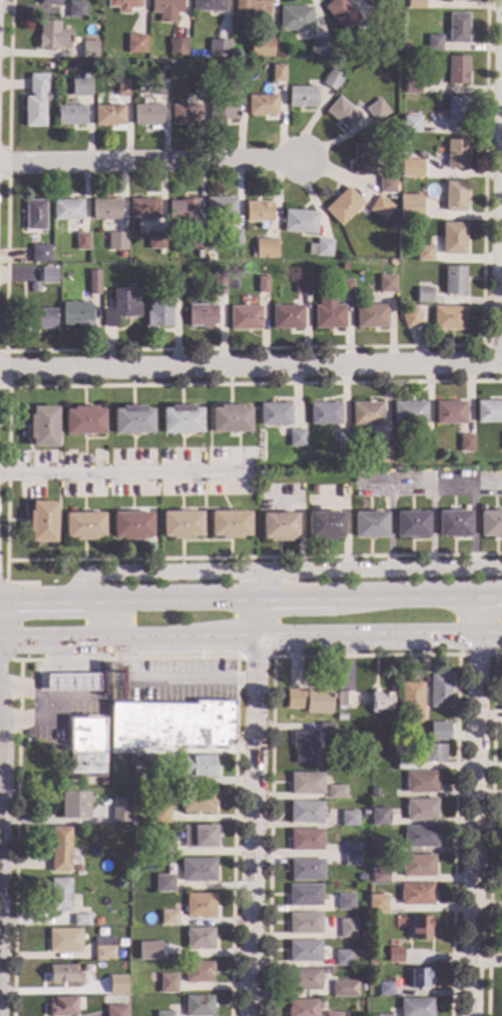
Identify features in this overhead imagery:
building: (465, 0)
building: (387, 1)
building: (48, 2)
building: (415, 4)
building: (123, 5)
building: (208, 5)
building: (250, 7)
building: (75, 9)
building: (165, 9)
building: (340, 13)
building: (294, 17)
building: (375, 24)
building: (457, 28)
building: (51, 36)
building: (433, 42)
building: (135, 43)
building: (232, 45)
building: (176, 46)
building: (320, 47)
building: (405, 47)
building: (218, 48)
building: (261, 48)
building: (88, 49)
building: (47, 65)
building: (457, 70)
building: (276, 72)
building: (331, 79)
building: (235, 82)
building: (79, 86)
building: (121, 86)
building: (198, 86)
building: (412, 86)
building: (160, 87)
building: (300, 96)
building: (34, 100)
building: (261, 104)
building: (222, 109)
building: (376, 110)
building: (456, 111)
building: (184, 113)
building: (342, 113)
building: (69, 114)
building: (146, 114)
building: (108, 115)
building: (411, 124)
building: (455, 153)
building: (362, 158)
road: (151, 161)
building: (411, 169)
building: (386, 185)
building: (454, 196)
building: (409, 205)
building: (342, 206)
building: (220, 207)
building: (380, 207)
building: (143, 208)
building: (66, 209)
building: (105, 209)
building: (430, 210)
building: (182, 211)
building: (257, 211)
building: (393, 212)
building: (33, 214)
building: (299, 221)
building: (233, 236)
building: (452, 238)
building: (154, 239)
building: (196, 239)
building: (80, 240)
building: (116, 240)
building: (320, 247)
building: (268, 248)
building: (424, 252)
building: (38, 253)
building: (119, 254)
building: (343, 266)
building: (262, 268)
building: (47, 275)
building: (453, 280)
building: (92, 281)
building: (173, 282)
building: (218, 282)
building: (386, 283)
building: (258, 284)
building: (301, 284)
building: (32, 287)
building: (345, 288)
building: (423, 294)
building: (120, 306)
building: (158, 312)
building: (327, 313)
building: (75, 314)
building: (201, 315)
building: (370, 315)
building: (286, 316)
road: (501, 316)
building: (244, 317)
building: (410, 317)
building: (40, 318)
building: (447, 318)
road: (250, 365)
building: (488, 410)
building: (408, 412)
building: (450, 412)
building: (274, 413)
building: (324, 413)
building: (366, 413)
building: (229, 418)
building: (131, 419)
building: (180, 419)
building: (83, 420)
building: (42, 426)
building: (295, 437)
building: (341, 440)
building: (465, 442)
building: (422, 447)
building: (382, 453)
building: (87, 459)
road: (125, 473)
building: (351, 477)
road: (434, 482)
building: (313, 487)
building: (263, 489)
building: (41, 521)
building: (410, 523)
building: (452, 523)
building: (490, 523)
building: (180, 524)
building: (229, 524)
building: (369, 524)
building: (83, 525)
building: (131, 525)
building: (324, 525)
building: (278, 526)
road: (285, 572)
road: (250, 594)
road: (105, 617)
road: (250, 638)
road: (74, 666)
road: (40, 671)
building: (72, 682)
building: (439, 691)
building: (343, 698)
building: (412, 699)
road: (36, 701)
building: (309, 701)
building: (381, 701)
building: (341, 718)
building: (171, 725)
building: (327, 728)
building: (439, 734)
building: (86, 747)
building: (304, 748)
building: (433, 753)
building: (134, 758)
building: (404, 760)
building: (199, 766)
building: (154, 771)
building: (101, 781)
building: (420, 782)
building: (306, 784)
building: (336, 792)
building: (372, 793)
building: (197, 801)
road: (473, 803)
building: (73, 805)
road: (250, 805)
building: (419, 809)
building: (120, 810)
building: (365, 812)
building: (305, 813)
building: (159, 815)
building: (379, 817)
building: (349, 819)
road: (491, 831)
building: (199, 836)
building: (419, 836)
building: (305, 839)
building: (377, 845)
building: (351, 847)
building: (165, 848)
building: (60, 849)
building: (132, 854)
building: (351, 860)
building: (417, 866)
building: (78, 867)
building: (198, 870)
building: (306, 870)
building: (379, 875)
building: (163, 883)
building: (416, 894)
building: (60, 895)
building: (304, 895)
building: (345, 902)
building: (377, 903)
building: (199, 905)
building: (168, 919)
building: (81, 920)
building: (304, 923)
building: (421, 928)
building: (348, 929)
building: (176, 930)
building: (171, 936)
building: (199, 938)
building: (64, 940)
building: (104, 949)
building: (148, 950)
building: (303, 951)
building: (394, 955)
building: (343, 958)
building: (371, 962)
building: (327, 971)
building: (198, 972)
building: (64, 974)
building: (420, 978)
building: (303, 980)
building: (167, 984)
building: (114, 986)
building: (344, 989)
building: (385, 989)
building: (370, 991)
building: (63, 1006)
building: (198, 1006)
building: (416, 1007)
building: (302, 1008)
building: (116, 1010)
building: (164, 1014)
building: (335, 1014)
building: (381, 1015)

